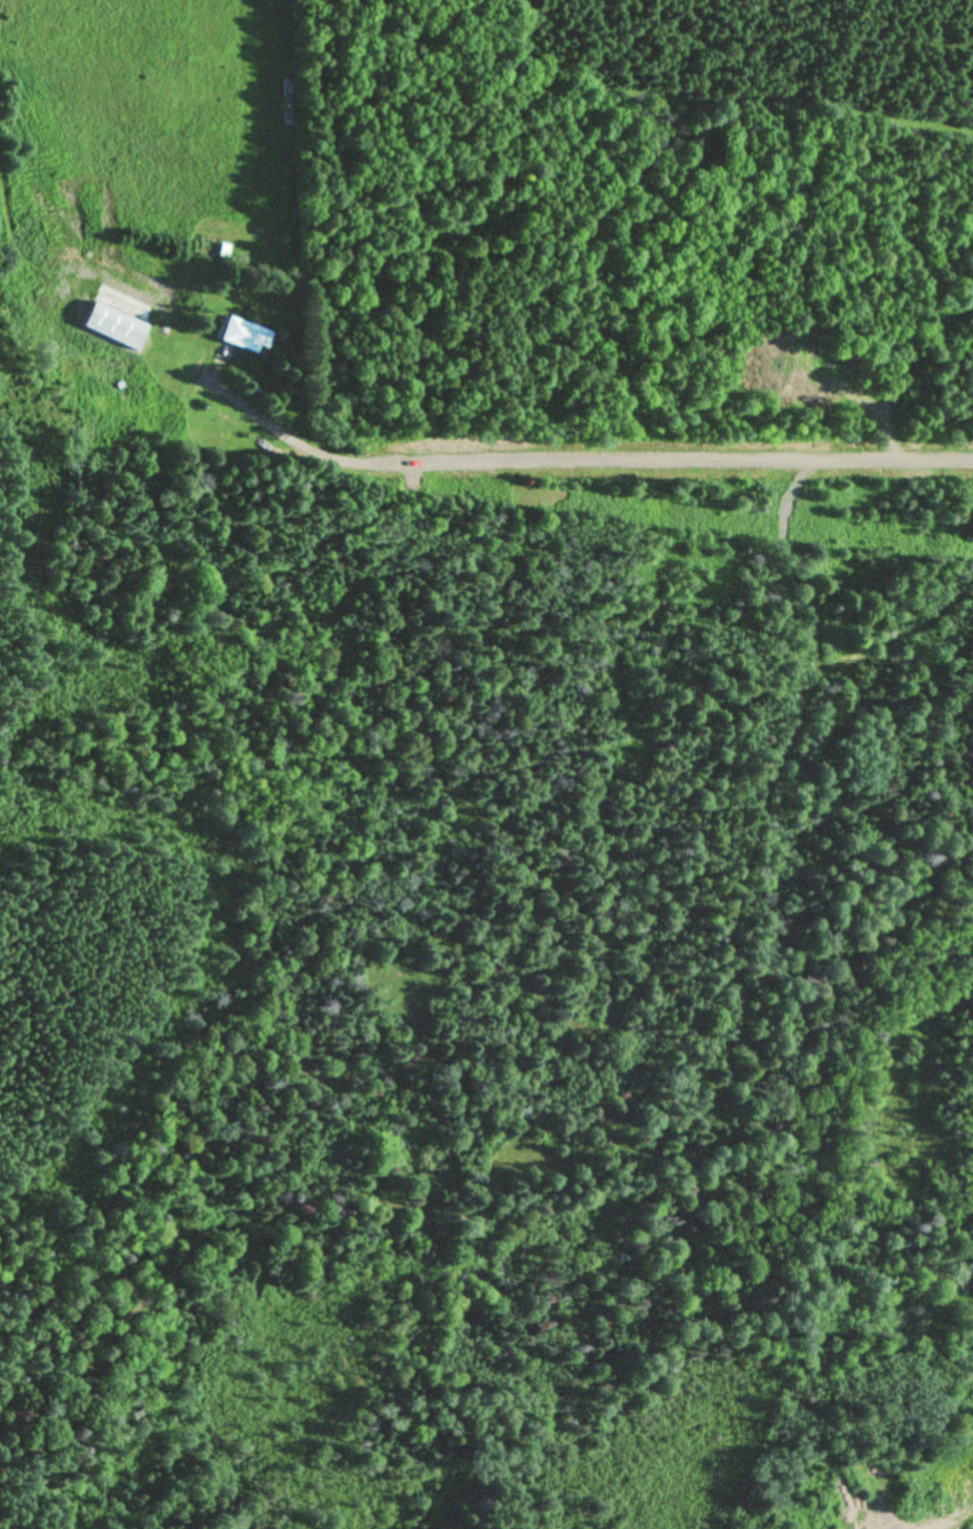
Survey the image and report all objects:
building: (287, 103)
building: (126, 301)
building: (245, 336)
road: (629, 466)
park: (491, 1462)

